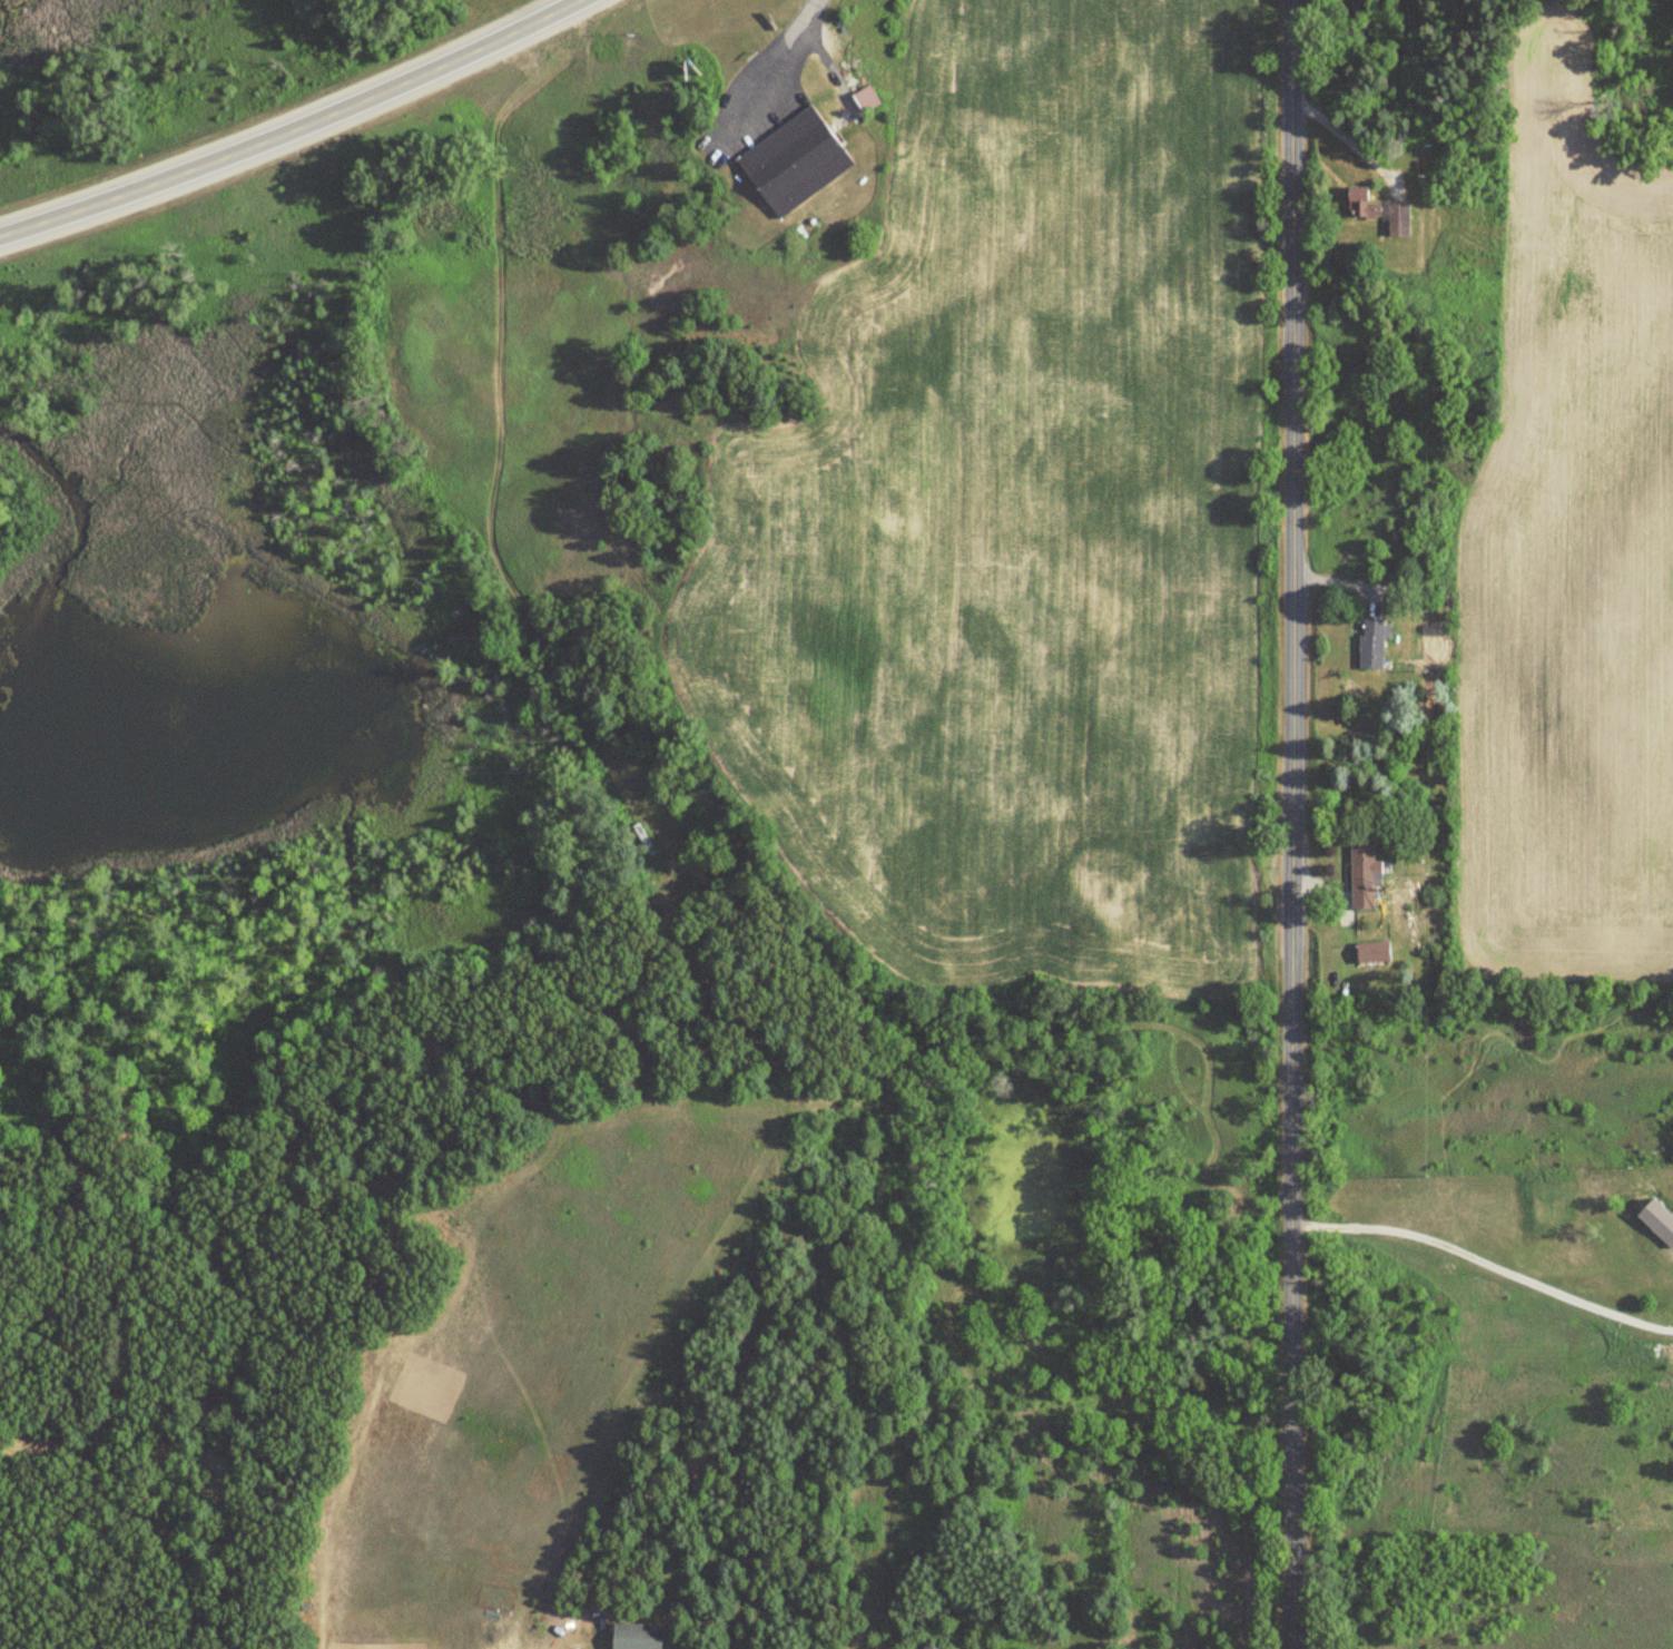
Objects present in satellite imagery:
road: (786, 48)
building: (869, 99)
road: (295, 130)
building: (799, 164)
building: (1359, 203)
building: (1397, 220)
building: (1449, 287)
building: (1369, 644)
road: (1292, 824)
building: (1360, 876)
building: (1370, 951)
road: (1488, 1247)
building: (633, 1636)
building: (932, 1646)

